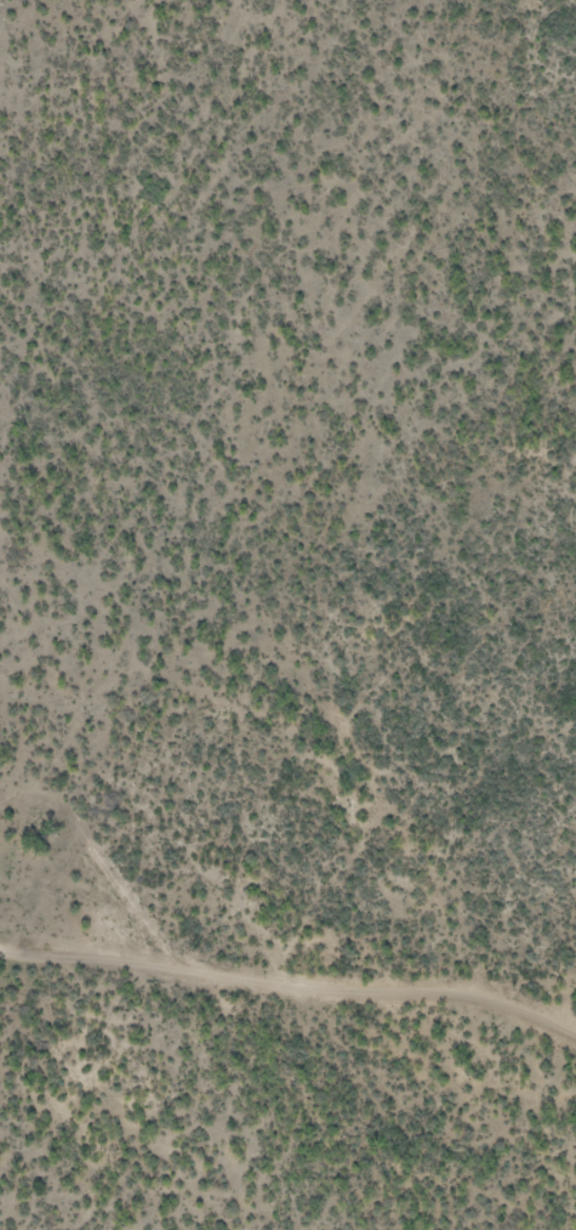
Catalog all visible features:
road: (291, 980)

